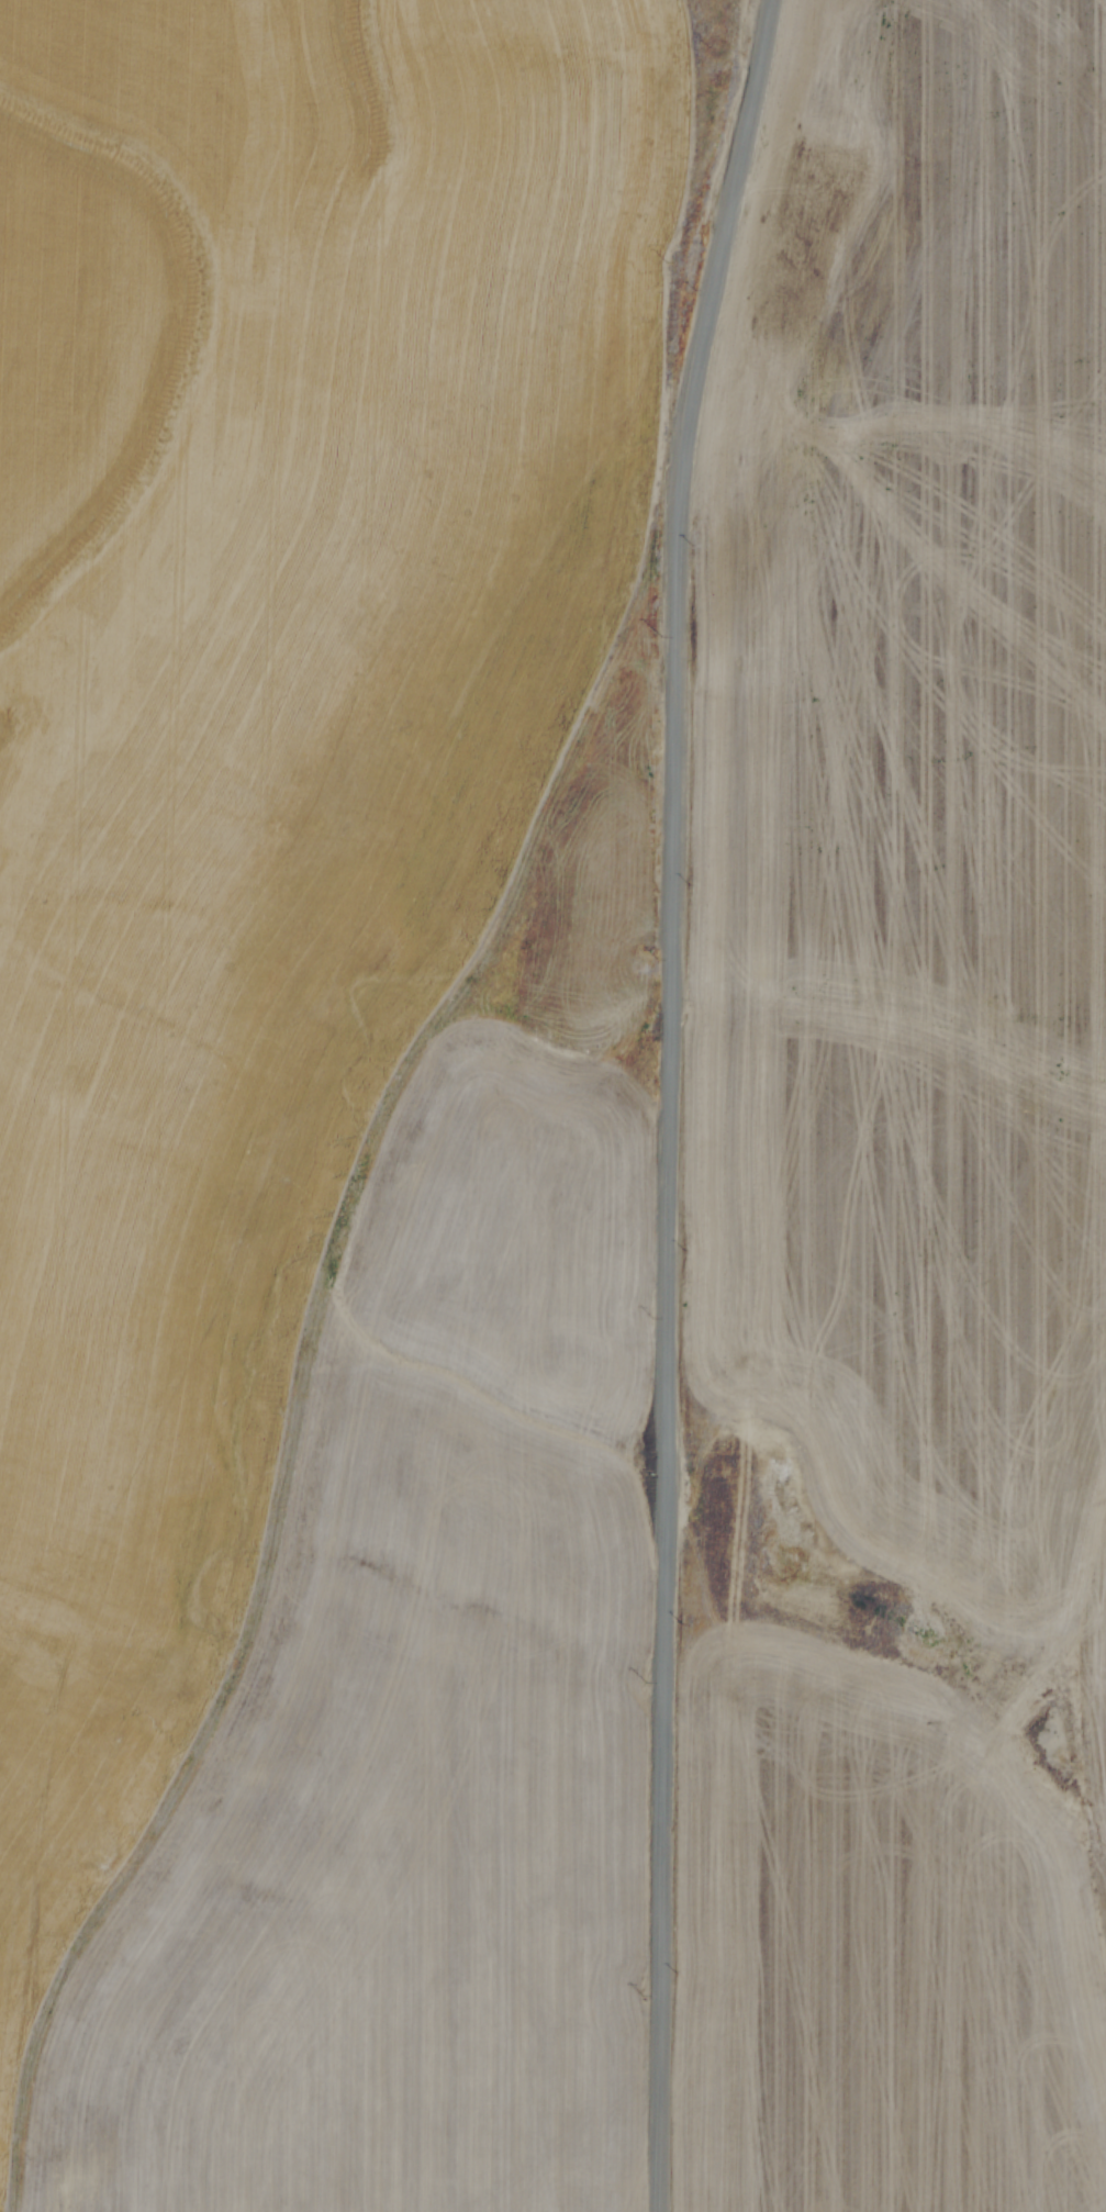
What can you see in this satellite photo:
road: (661, 1102)

